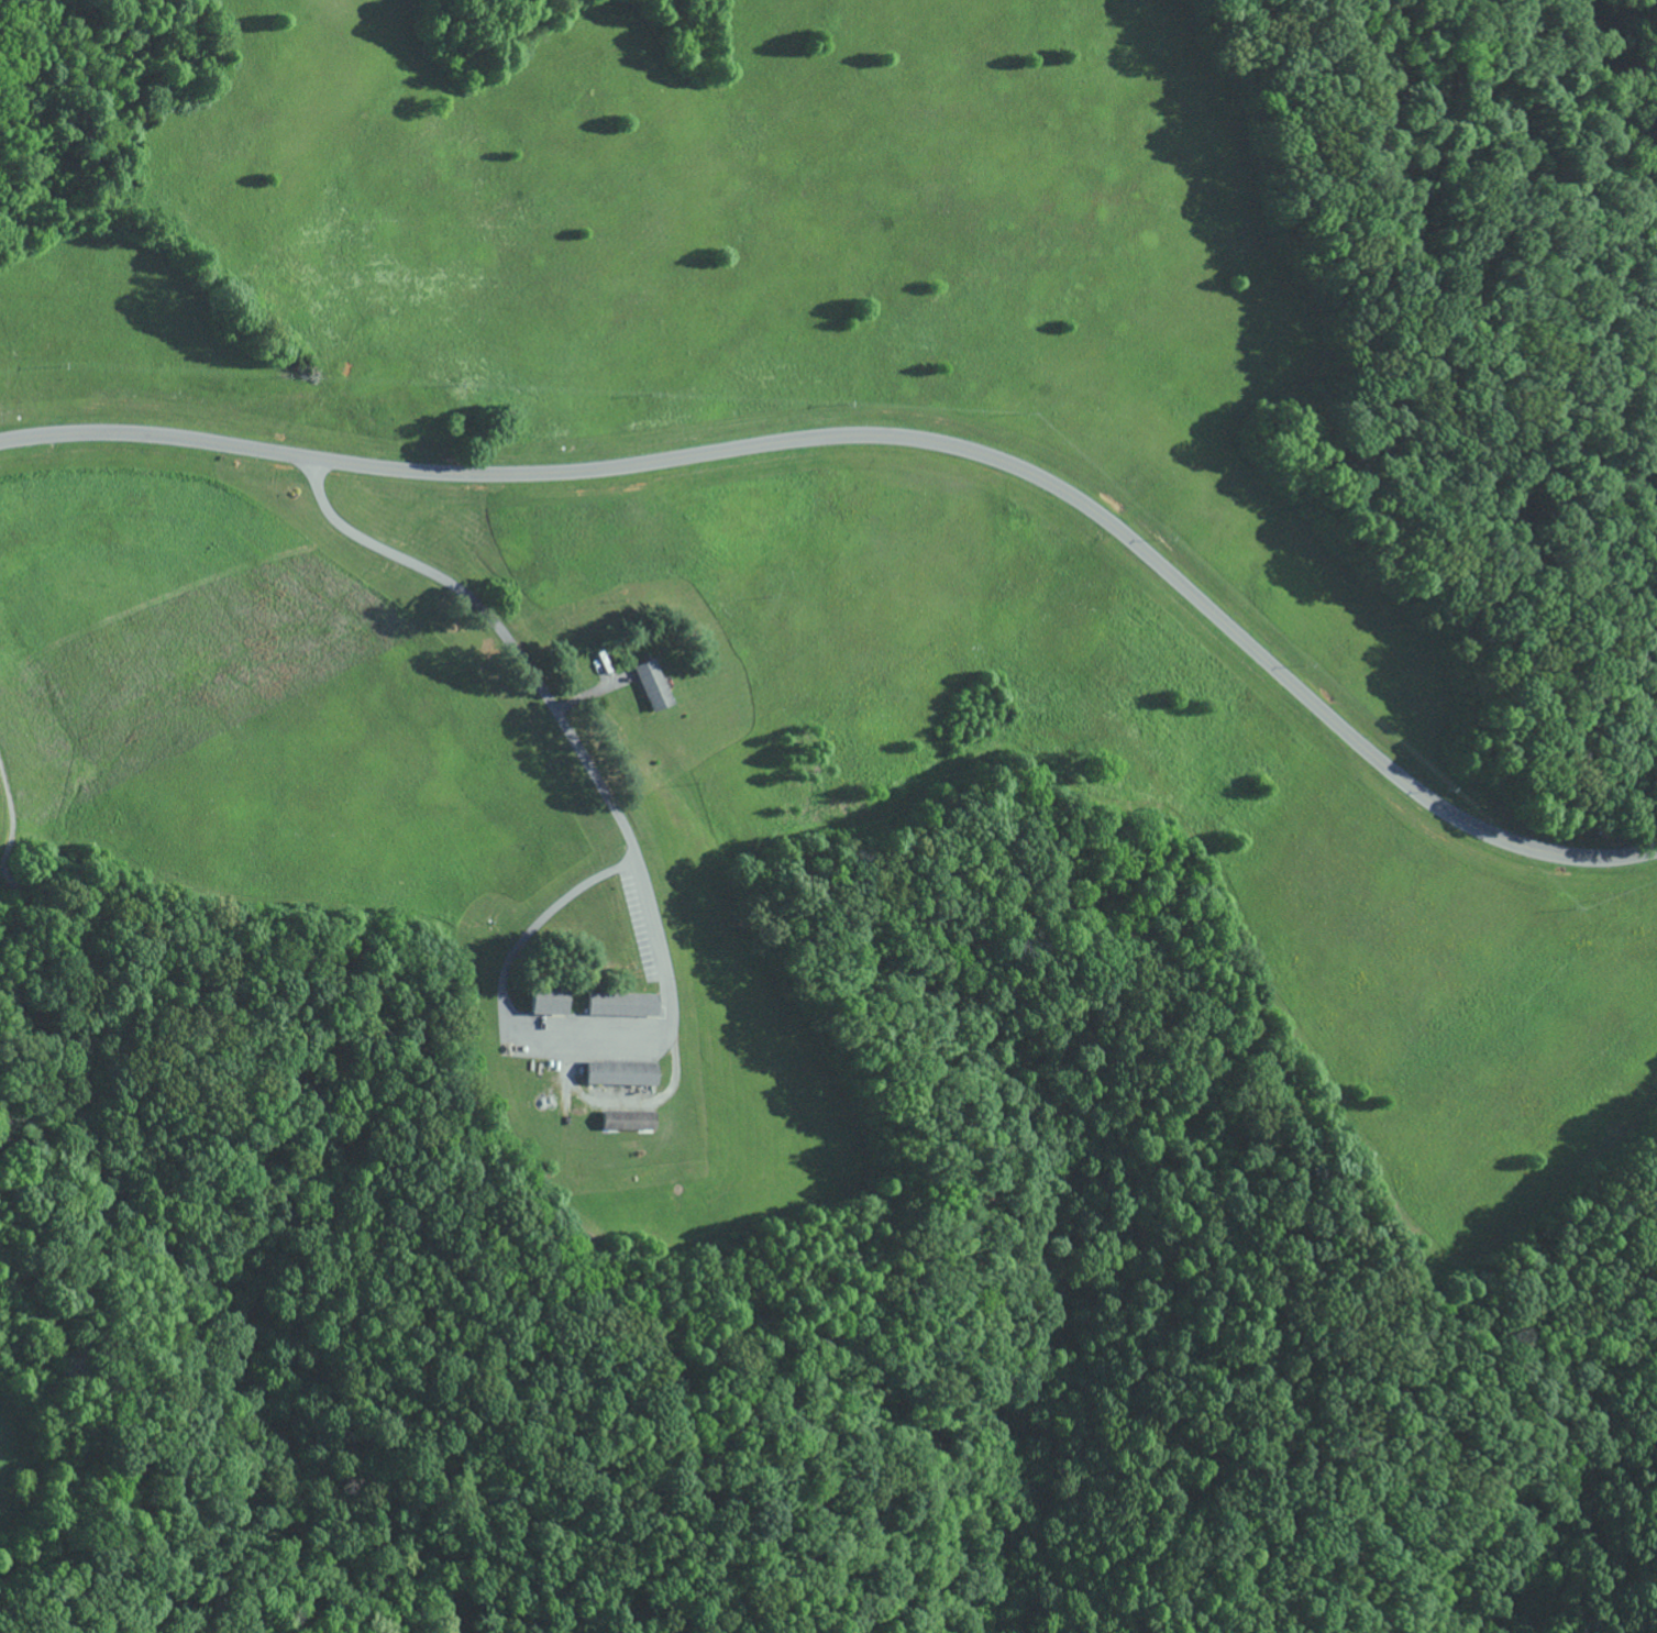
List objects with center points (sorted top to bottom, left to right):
road: (894, 438)
road: (501, 631)
building: (652, 684)
park: (828, 816)
building: (546, 1002)
building: (621, 1004)
road: (601, 1039)
building: (619, 1073)
building: (627, 1119)

